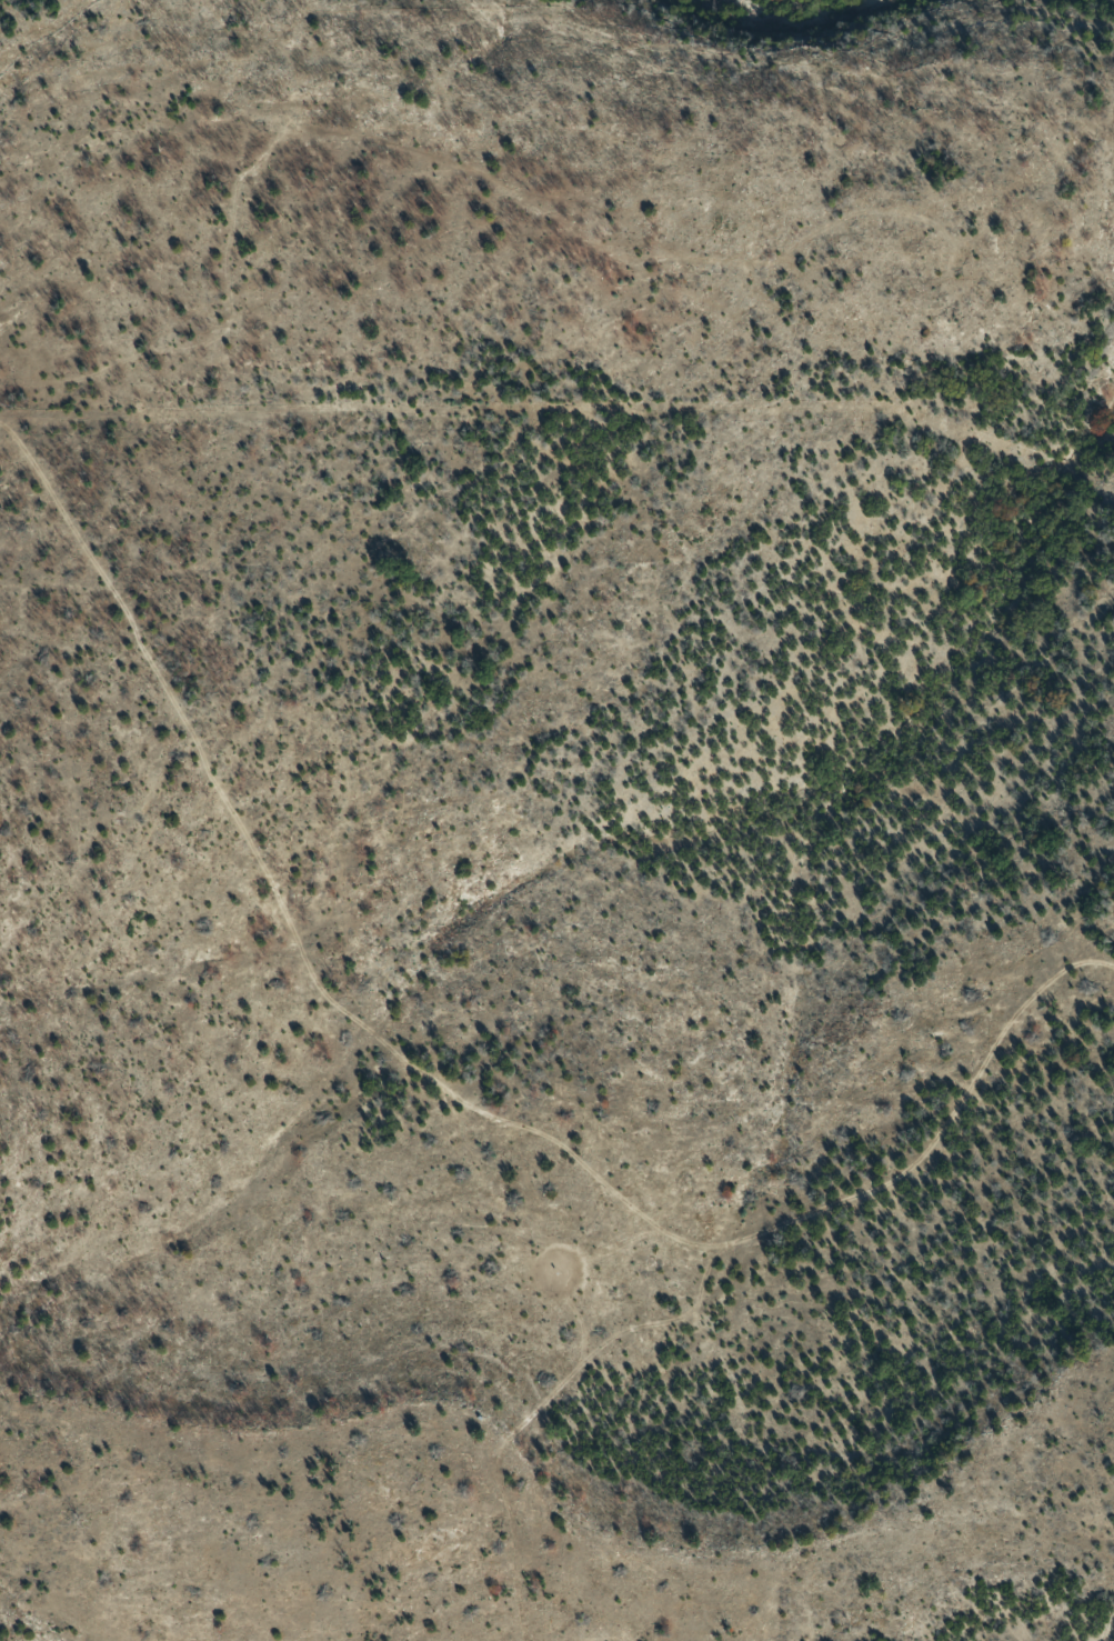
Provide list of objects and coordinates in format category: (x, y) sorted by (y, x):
road: (472, 1107)

